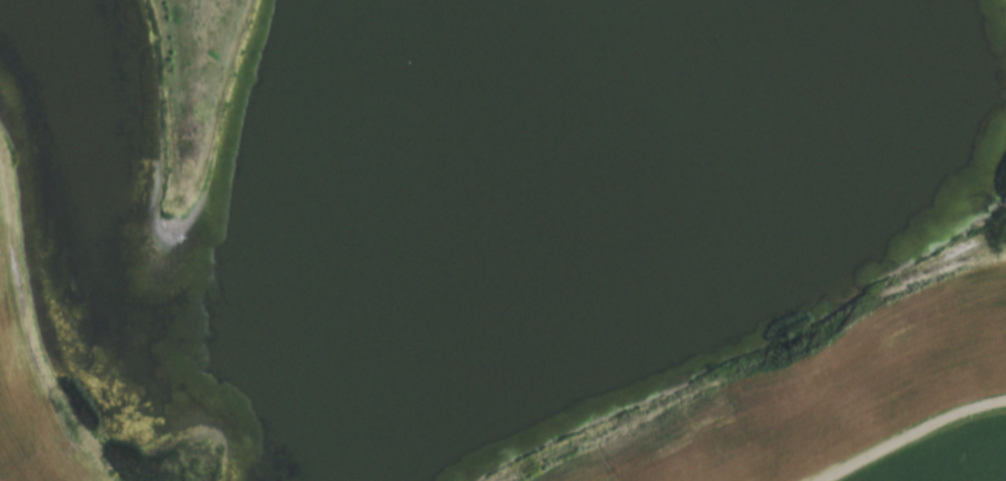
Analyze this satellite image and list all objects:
road: (889, 430)

